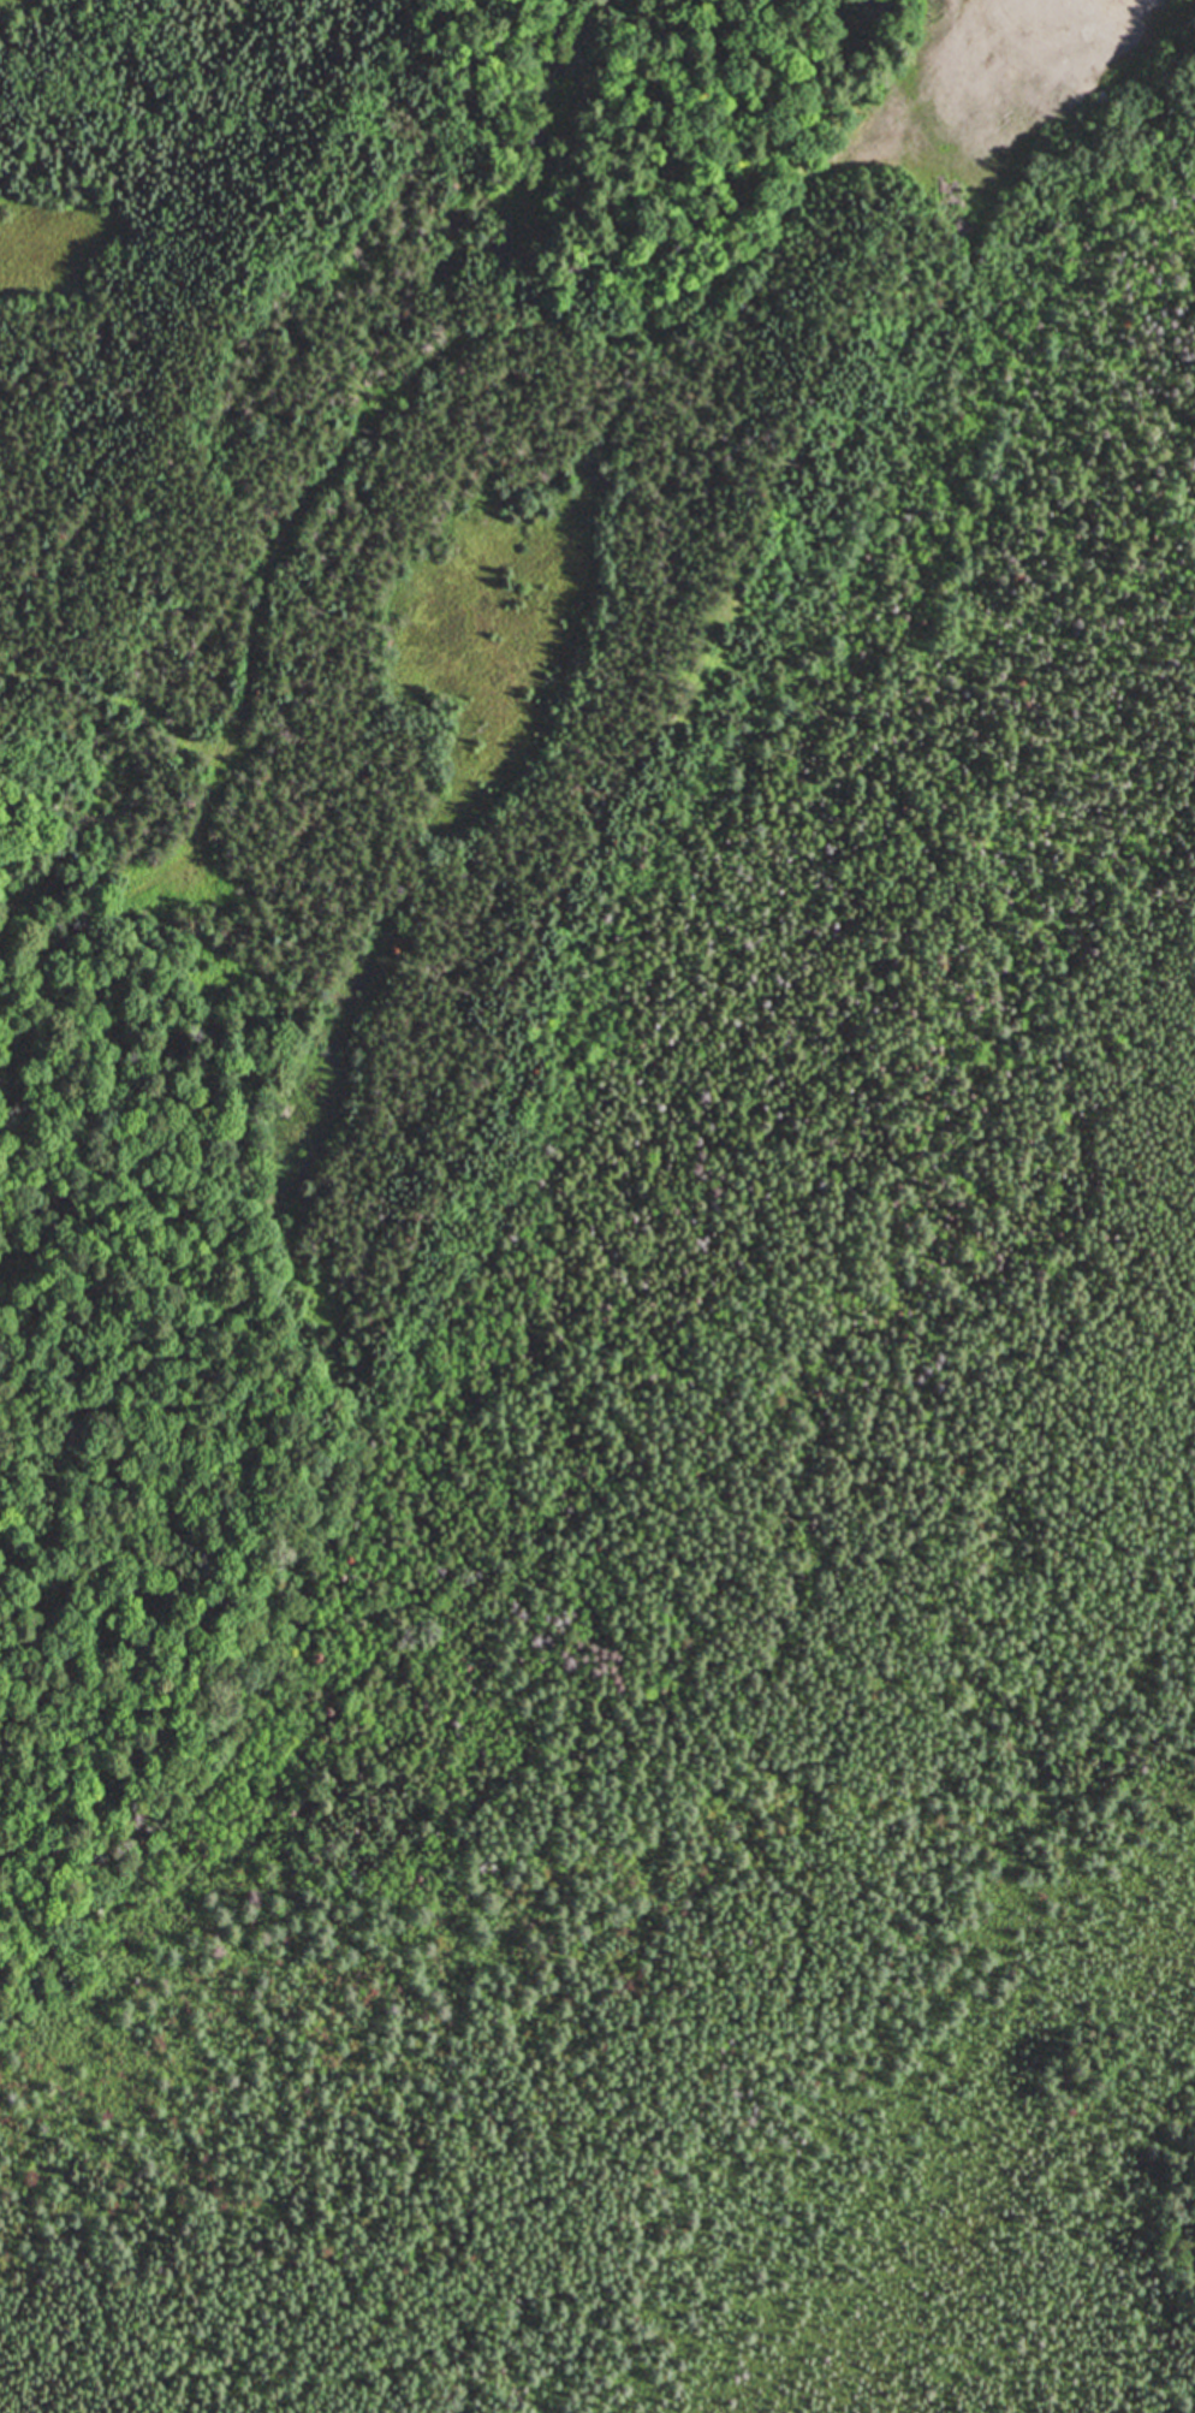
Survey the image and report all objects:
road: (943, 59)

